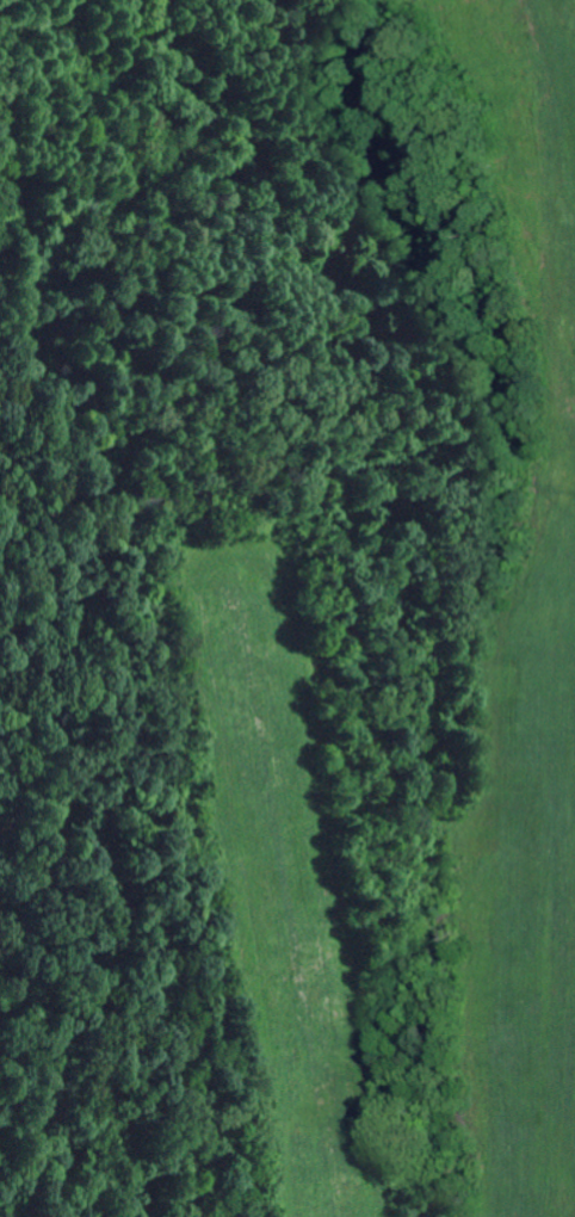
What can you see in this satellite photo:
road: (167, 989)

